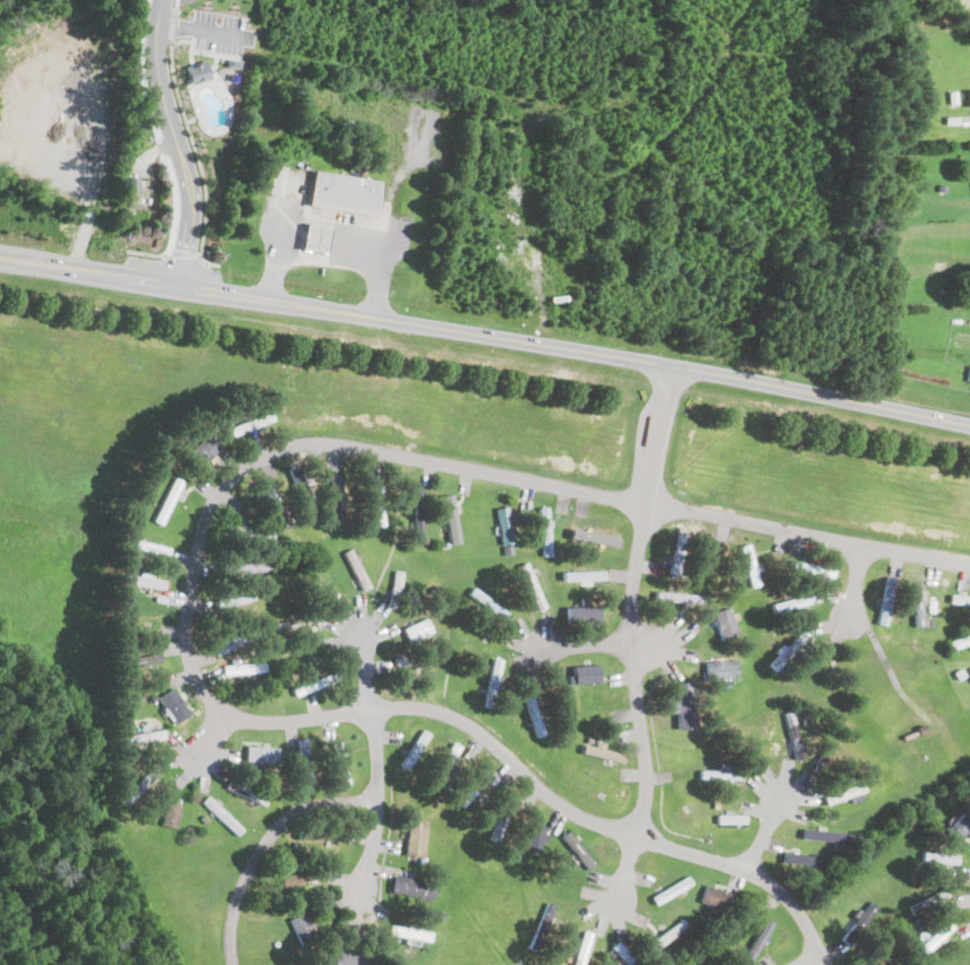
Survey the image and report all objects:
road: (175, 6)
road: (170, 27)
road: (202, 30)
road: (141, 70)
building: (196, 71)
building: (969, 97)
road: (177, 141)
road: (159, 147)
road: (198, 158)
building: (139, 190)
building: (344, 192)
road: (334, 220)
road: (173, 223)
building: (314, 237)
road: (183, 256)
road: (485, 334)
building: (968, 374)
building: (248, 424)
building: (203, 448)
building: (270, 494)
building: (335, 496)
building: (301, 497)
building: (167, 500)
building: (375, 501)
building: (416, 513)
building: (450, 516)
building: (503, 524)
building: (543, 531)
building: (147, 547)
building: (676, 556)
building: (748, 565)
building: (245, 567)
building: (356, 568)
building: (812, 568)
road: (195, 569)
building: (583, 575)
building: (144, 581)
road: (848, 584)
building: (530, 586)
building: (396, 588)
building: (678, 598)
building: (959, 599)
building: (885, 600)
building: (795, 601)
building: (489, 604)
building: (916, 605)
building: (582, 614)
building: (724, 623)
building: (417, 629)
road: (632, 640)
building: (959, 640)
building: (233, 643)
road: (582, 645)
building: (788, 649)
road: (884, 661)
building: (243, 668)
building: (721, 668)
building: (585, 673)
building: (969, 673)
building: (969, 675)
building: (492, 682)
building: (309, 685)
building: (173, 706)
building: (686, 708)
building: (533, 713)
road: (209, 734)
building: (793, 734)
building: (140, 737)
building: (412, 750)
building: (601, 753)
building: (260, 754)
building: (304, 762)
road: (376, 762)
building: (337, 764)
building: (719, 774)
building: (138, 786)
building: (472, 788)
building: (245, 792)
building: (841, 793)
building: (171, 814)
building: (220, 815)
building: (502, 818)
building: (730, 819)
building: (959, 825)
road: (765, 829)
building: (827, 835)
building: (536, 836)
building: (414, 837)
road: (263, 841)
building: (577, 849)
building: (802, 857)
building: (938, 857)
building: (292, 879)
building: (407, 885)
building: (670, 889)
building: (715, 897)
building: (926, 901)
building: (859, 921)
building: (542, 925)
building: (302, 928)
building: (409, 932)
building: (668, 933)
building: (930, 937)
building: (756, 941)
building: (581, 948)
building: (623, 954)
building: (348, 957)
road: (807, 959)

